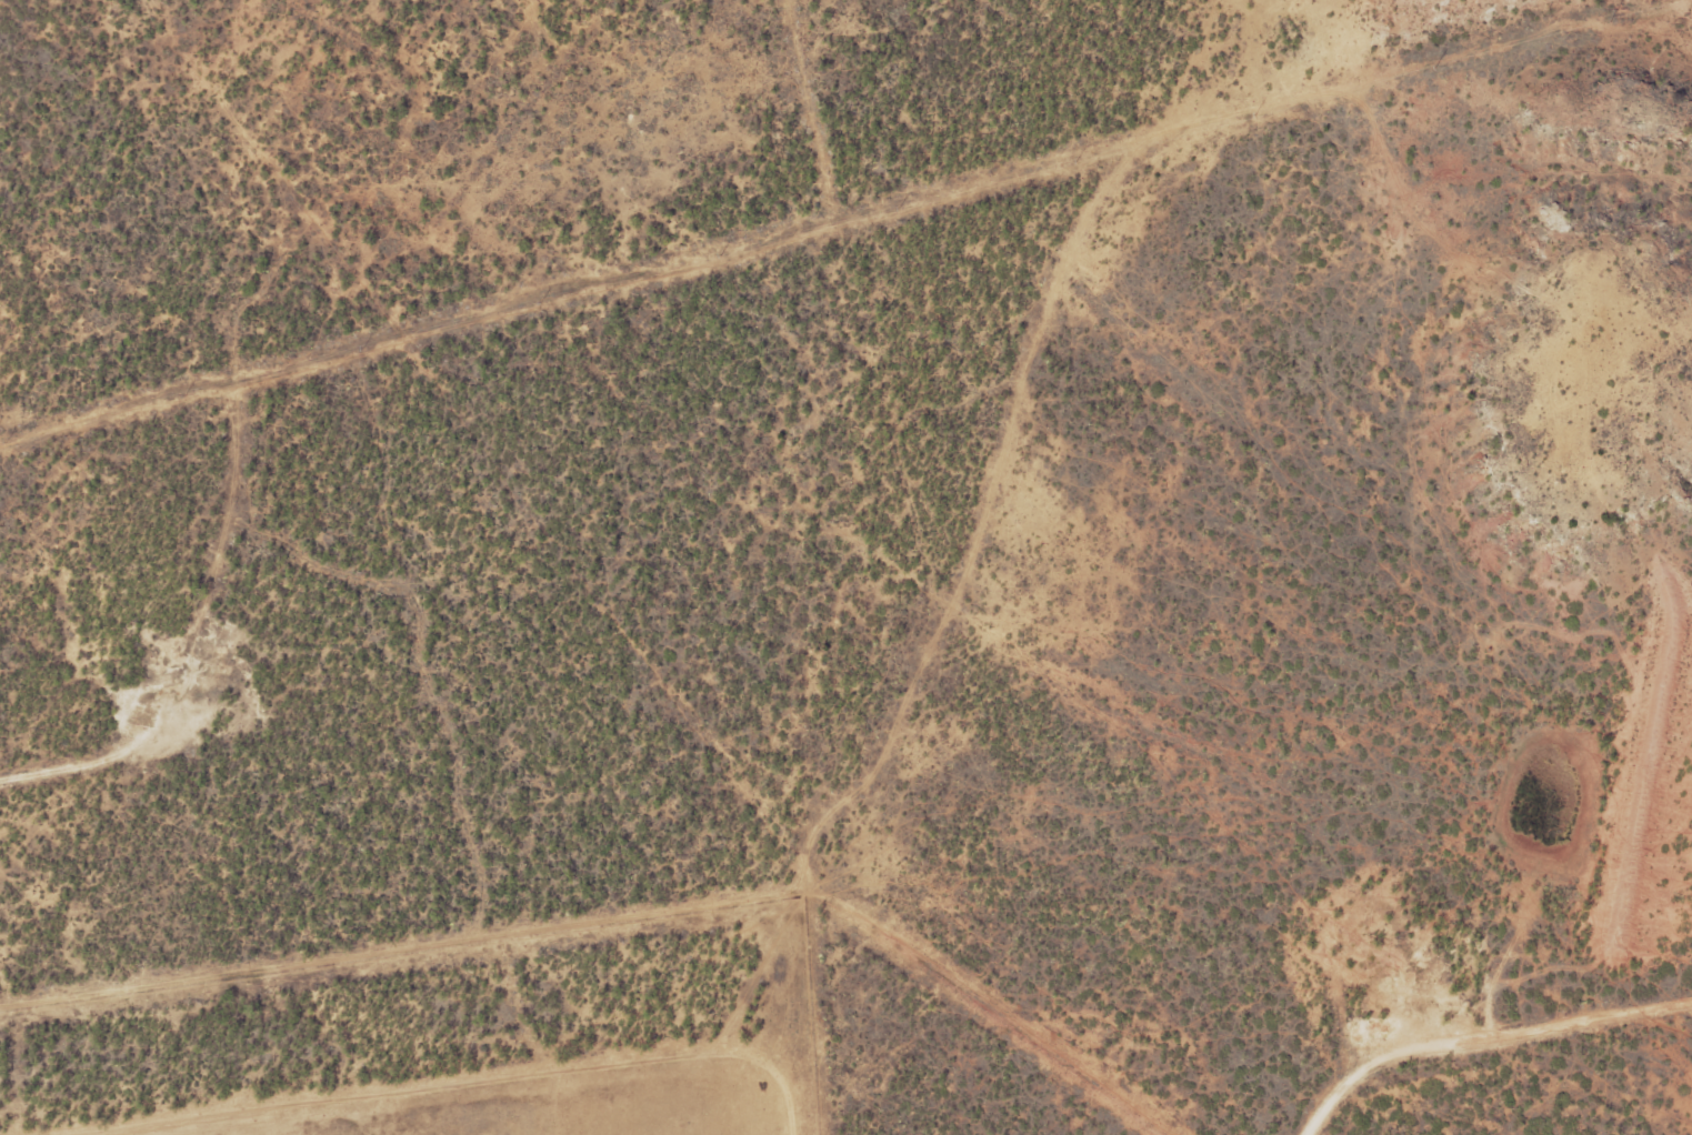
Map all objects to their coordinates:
road: (1173, 69)
road: (588, 322)
road: (1049, 409)
road: (1484, 1042)

